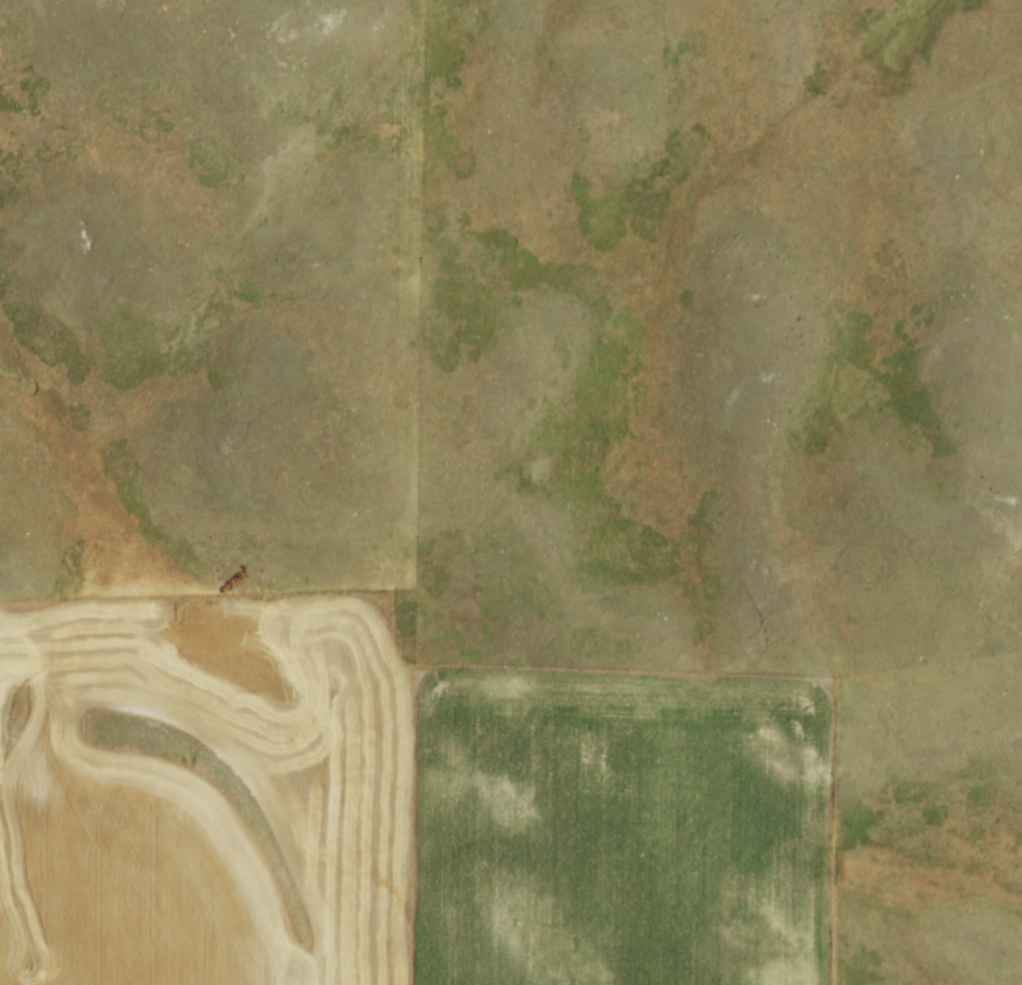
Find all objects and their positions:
crop: (394, 806)

